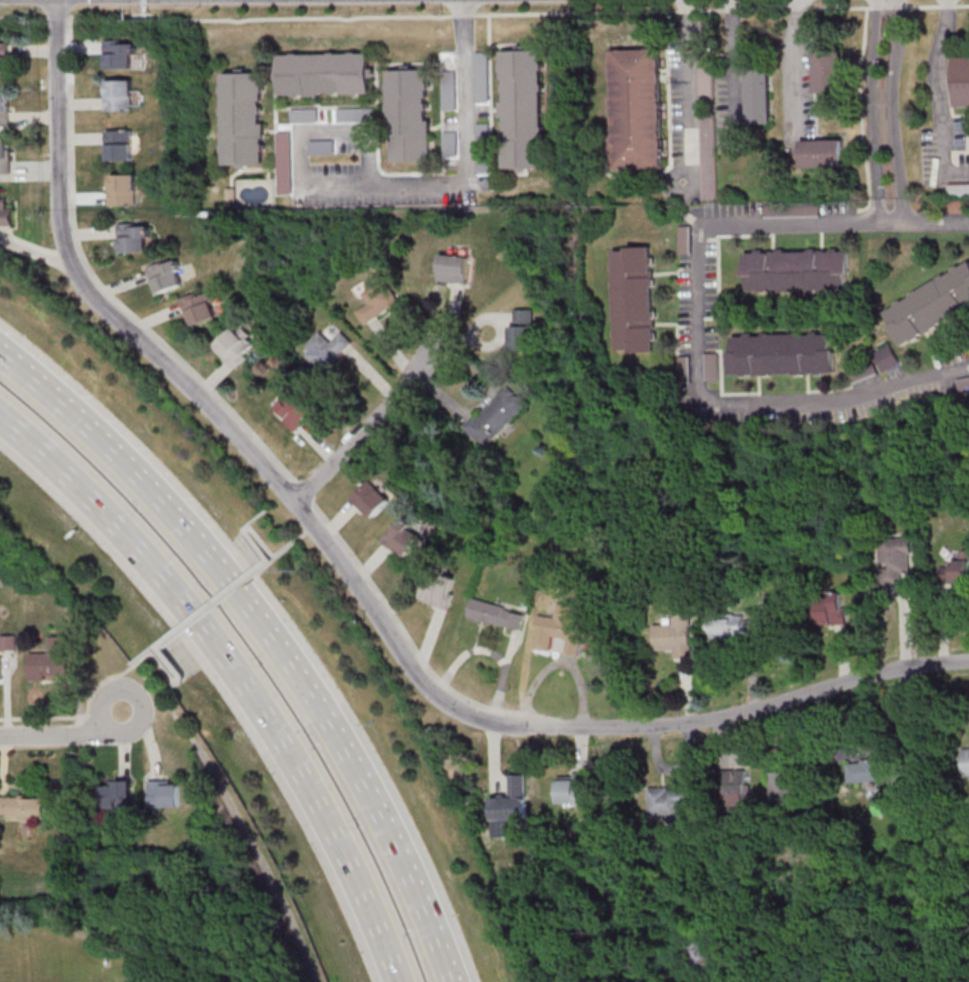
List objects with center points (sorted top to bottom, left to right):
road: (67, 21)
building: (119, 54)
building: (4, 57)
road: (793, 68)
road: (732, 69)
building: (829, 71)
building: (325, 74)
building: (482, 77)
building: (962, 82)
building: (449, 90)
road: (690, 93)
building: (119, 95)
building: (759, 96)
road: (938, 99)
building: (522, 109)
building: (637, 109)
building: (5, 110)
road: (871, 110)
road: (892, 111)
building: (355, 114)
building: (304, 115)
building: (409, 116)
building: (243, 118)
building: (707, 126)
road: (301, 132)
road: (466, 142)
building: (450, 144)
building: (119, 145)
building: (483, 149)
building: (822, 154)
building: (5, 155)
building: (284, 163)
building: (123, 189)
building: (958, 189)
building: (231, 196)
building: (791, 210)
building: (6, 211)
building: (135, 237)
building: (683, 240)
building: (453, 268)
building: (797, 271)
building: (167, 275)
building: (377, 299)
building: (635, 300)
building: (930, 305)
building: (202, 307)
road: (698, 316)
building: (522, 330)
building: (237, 346)
building: (327, 349)
building: (782, 355)
building: (711, 367)
building: (684, 368)
road: (180, 379)
building: (962, 384)
building: (294, 410)
building: (496, 417)
road: (366, 427)
building: (371, 498)
building: (403, 537)
road: (262, 542)
building: (894, 561)
building: (955, 570)
building: (440, 589)
road: (211, 604)
building: (832, 608)
building: (496, 613)
building: (732, 626)
building: (576, 627)
road: (268, 636)
building: (675, 636)
building: (9, 642)
building: (52, 660)
building: (1, 667)
road: (233, 675)
road: (103, 713)
road: (79, 716)
road: (710, 719)
road: (552, 723)
road: (65, 736)
building: (965, 762)
road: (209, 764)
building: (865, 770)
building: (573, 788)
building: (783, 790)
building: (734, 791)
building: (165, 793)
building: (116, 794)
building: (512, 801)
building: (667, 802)
building: (23, 807)
road: (940, 974)

